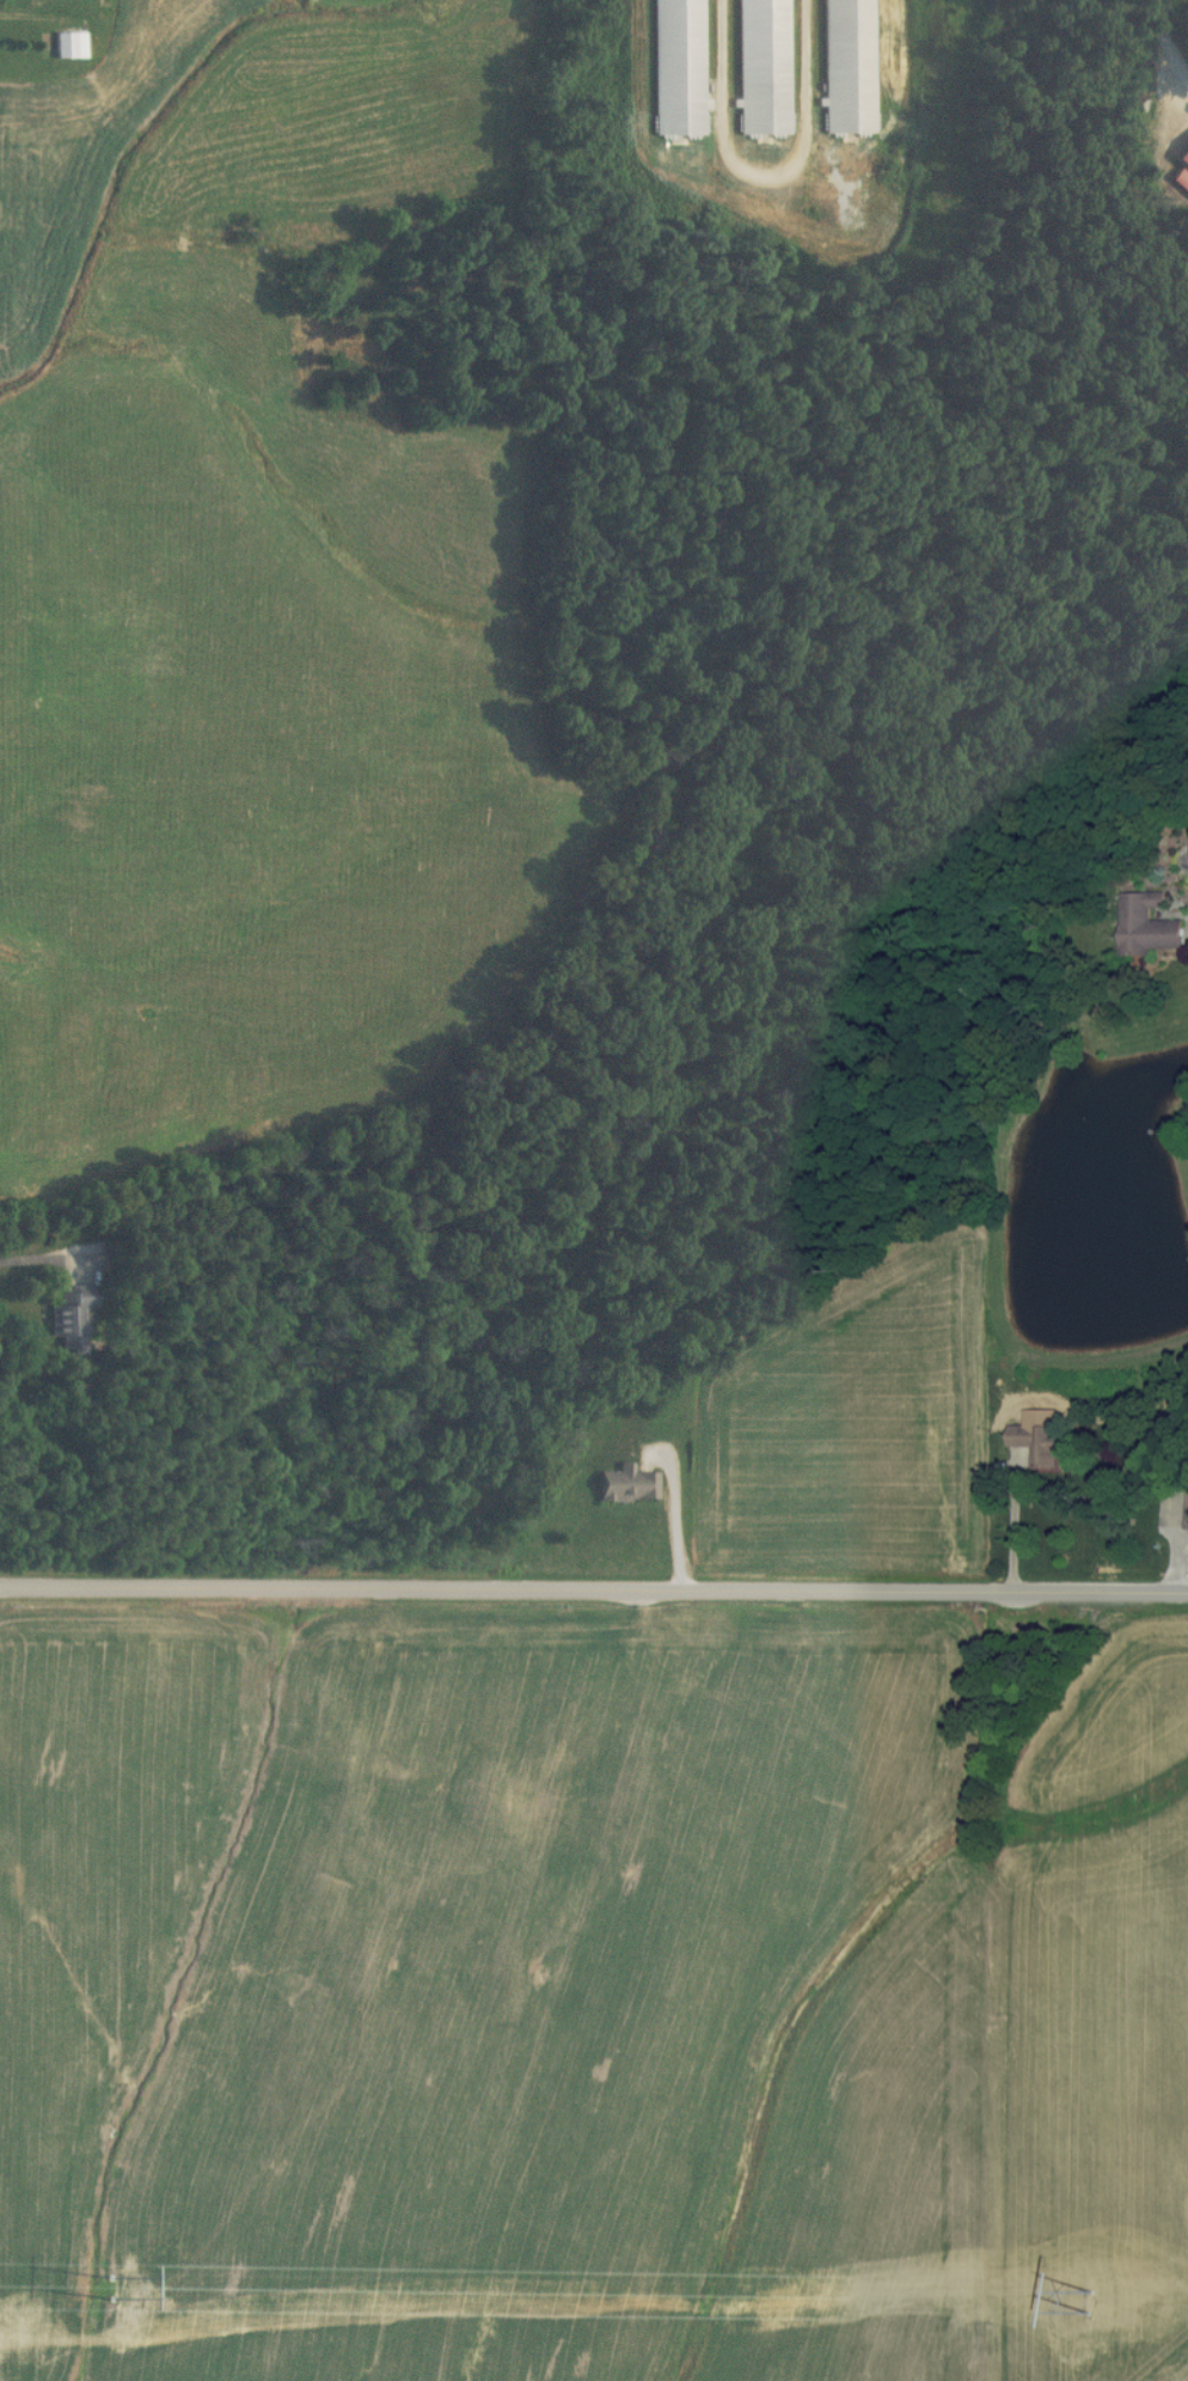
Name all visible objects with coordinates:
road: (1169, 39)
building: (67, 45)
building: (1146, 924)
building: (67, 1319)
building: (1036, 1442)
building: (625, 1484)
building: (1187, 1513)
road: (678, 1520)
road: (593, 1588)
power tower: (116, 2293)
power tower: (1088, 2296)

